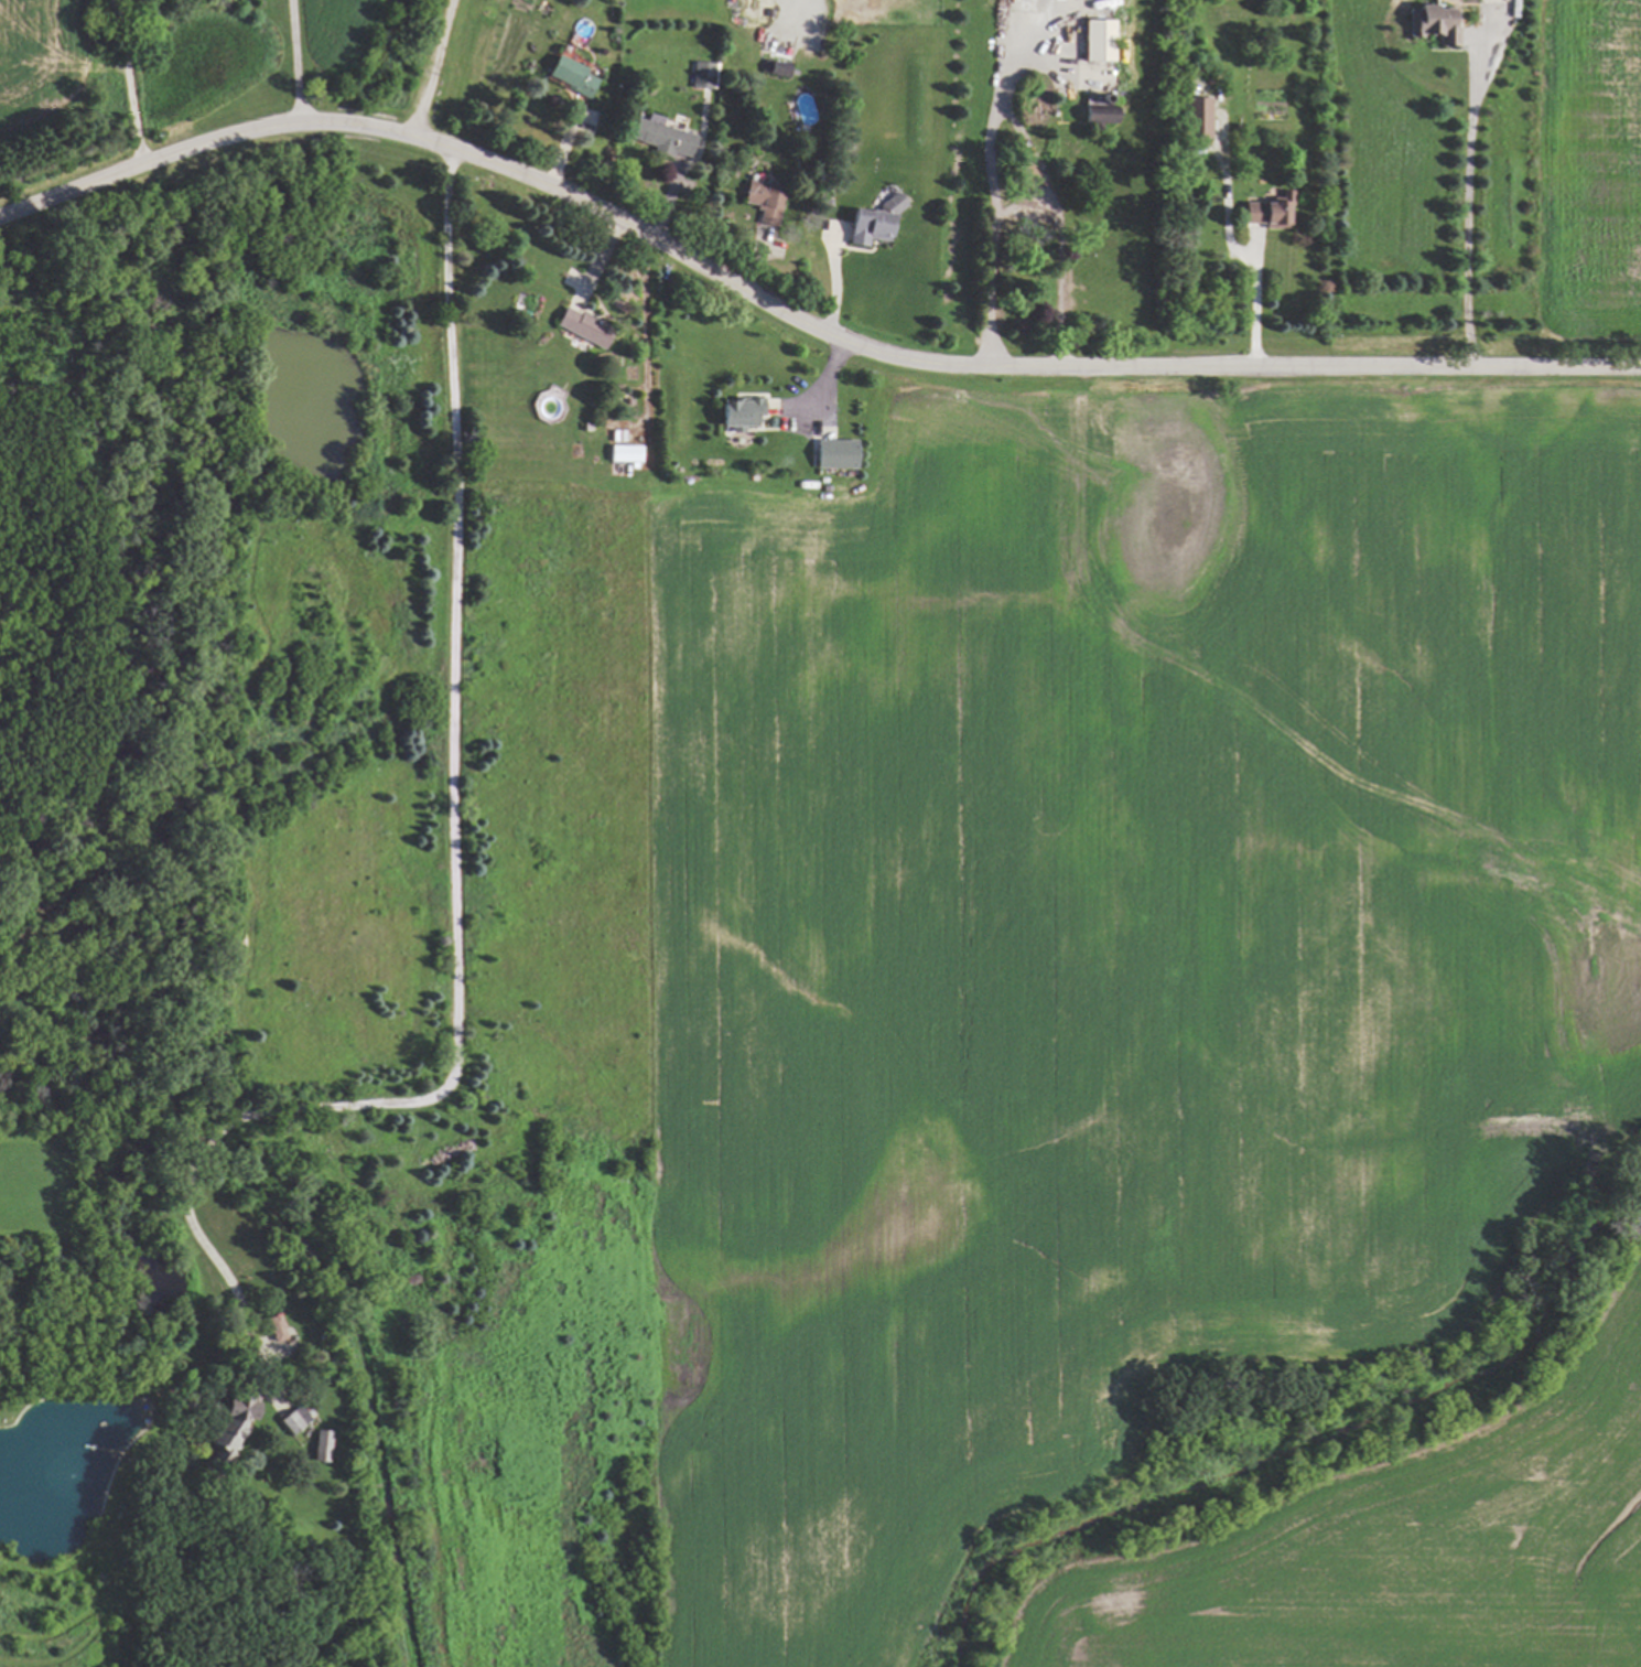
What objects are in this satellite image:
building: (1431, 25)
building: (1094, 41)
road: (294, 60)
road: (429, 69)
building: (776, 69)
building: (701, 75)
building: (570, 76)
road: (131, 79)
building: (1097, 114)
building: (1200, 118)
building: (661, 138)
building: (763, 200)
road: (1467, 207)
building: (1265, 213)
road: (978, 215)
building: (872, 223)
road: (1254, 305)
road: (796, 318)
road: (648, 326)
building: (582, 327)
building: (738, 413)
building: (624, 453)
building: (834, 454)
road: (451, 852)
building: (273, 1327)
building: (292, 1420)
building: (231, 1423)

